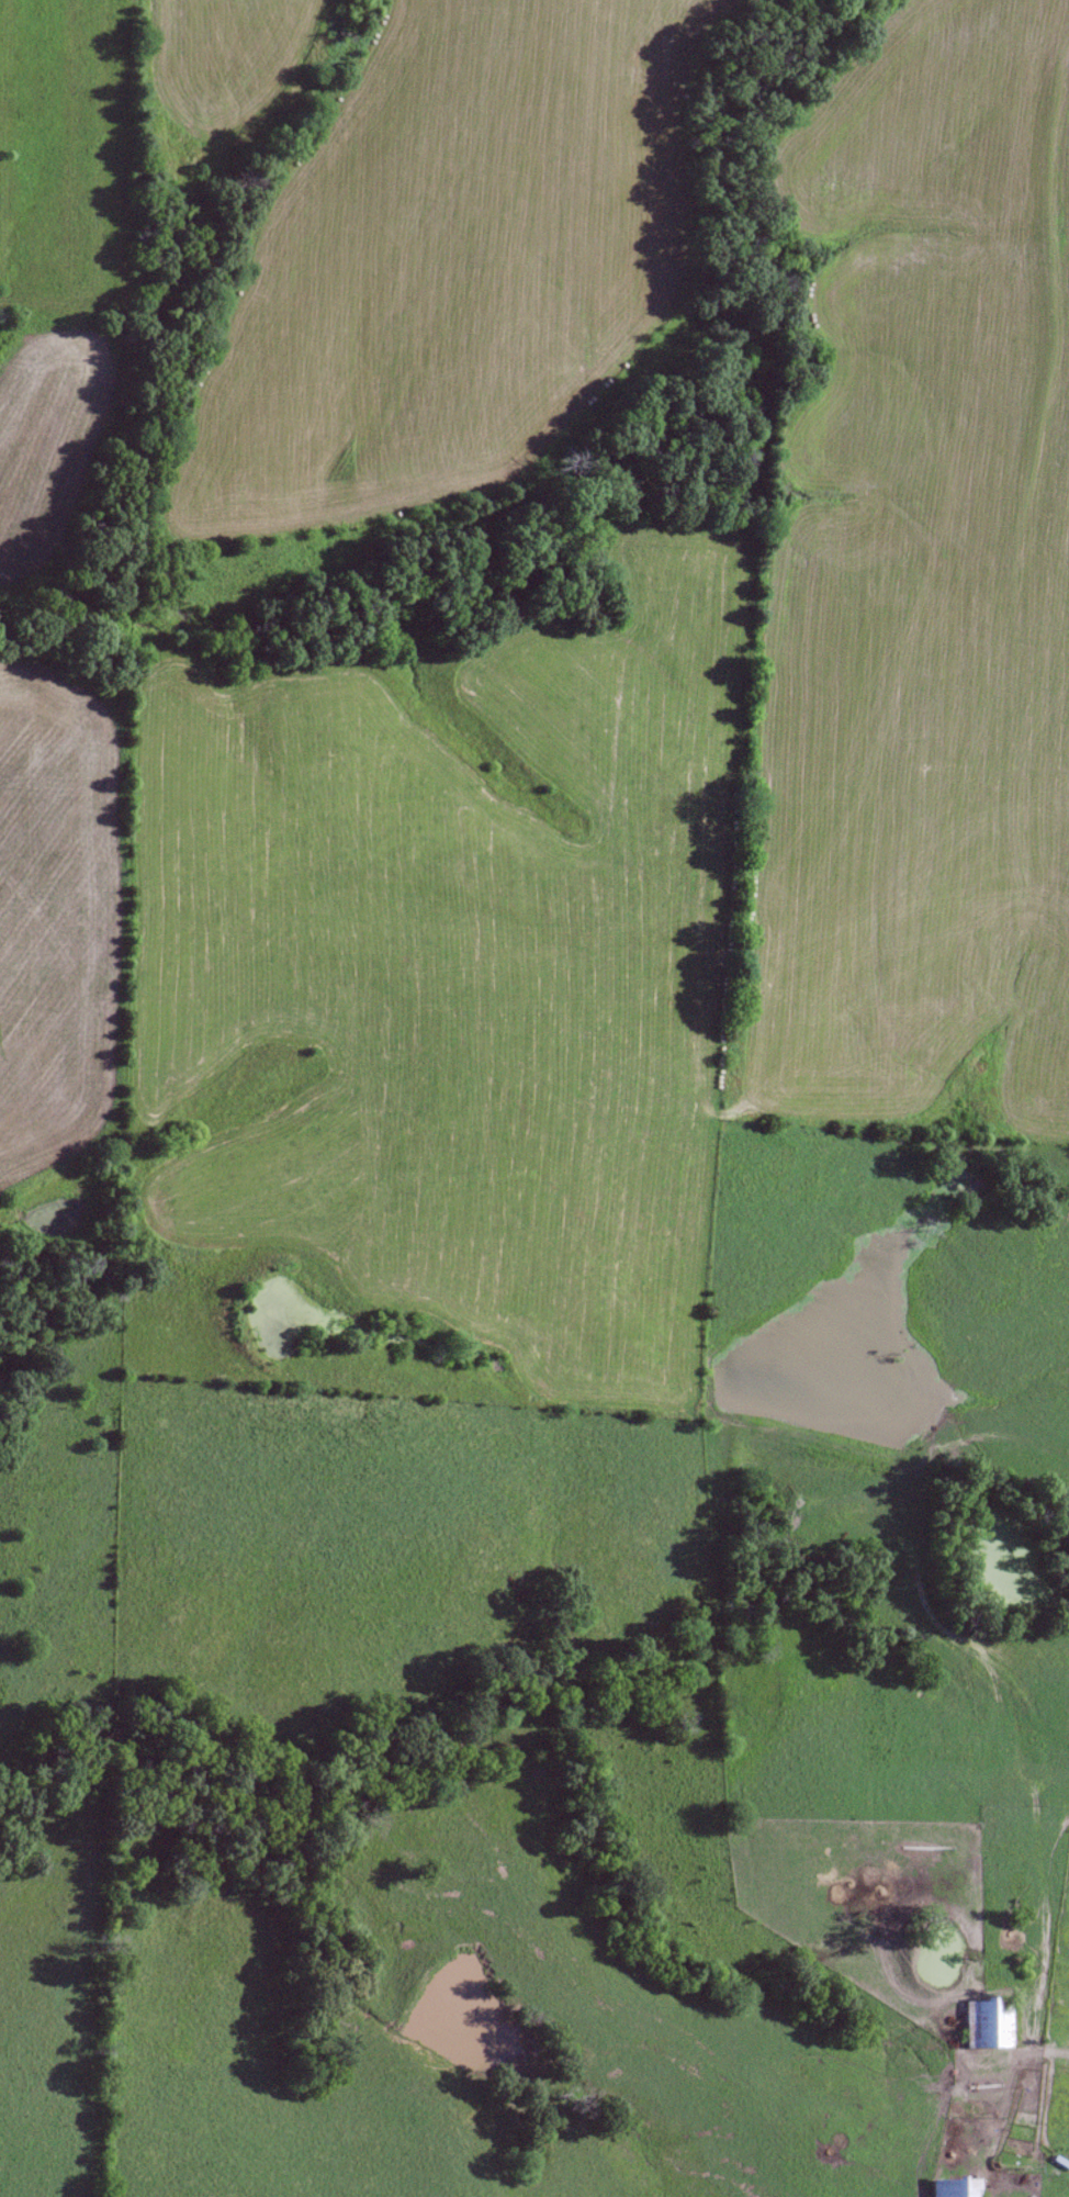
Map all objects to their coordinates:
road: (903, 1865)
building: (988, 2022)
road: (1031, 2173)
building: (956, 2187)

